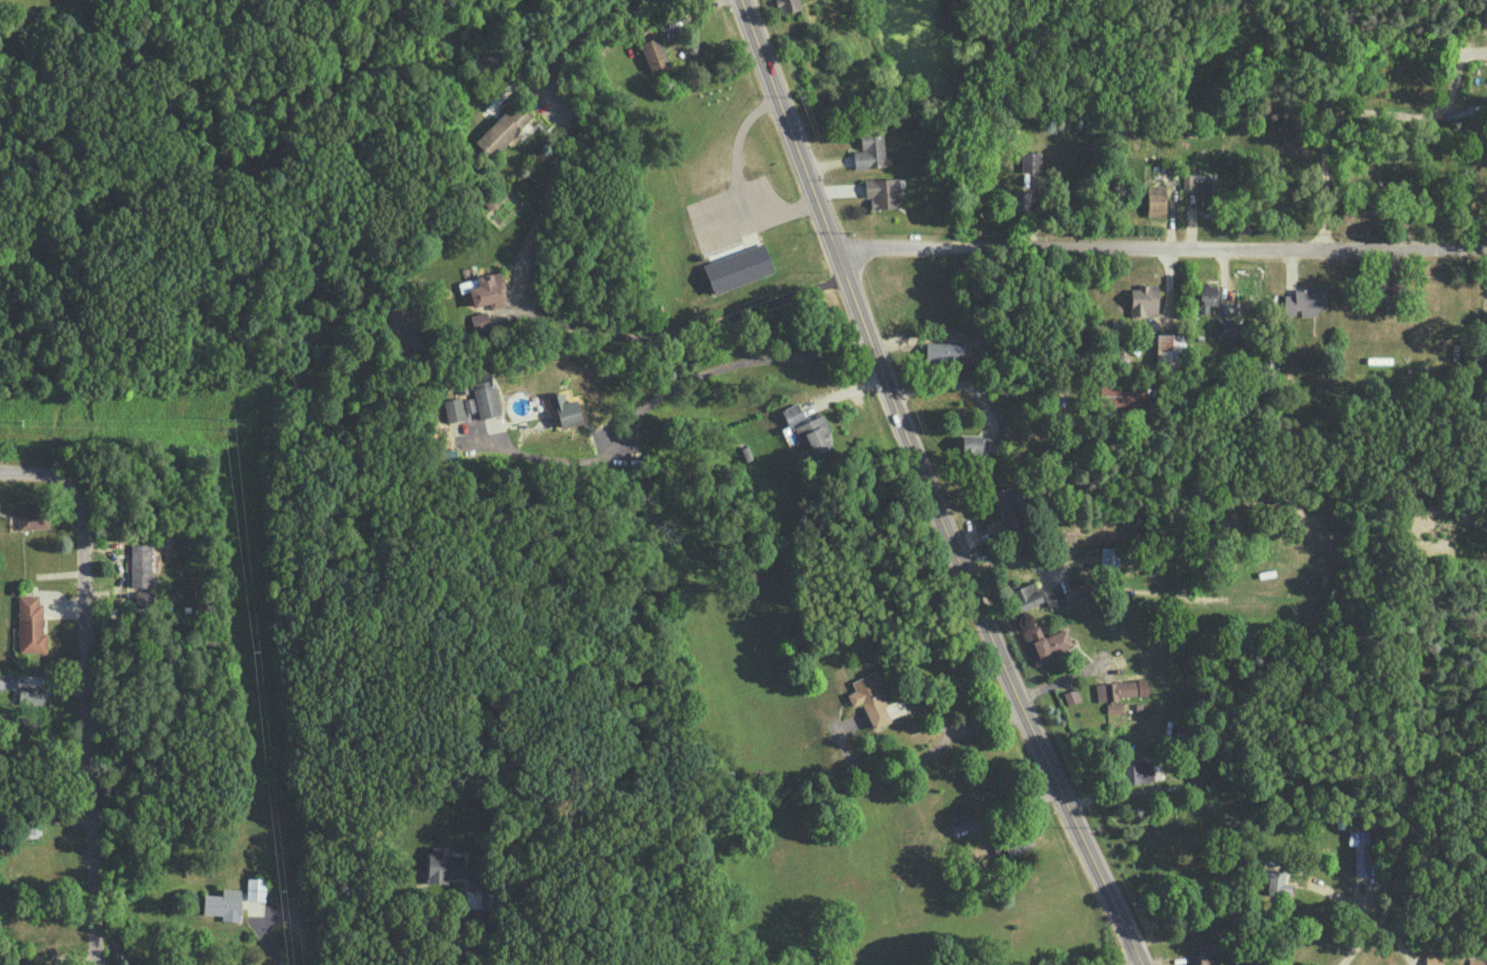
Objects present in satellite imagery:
building: (788, 5)
building: (653, 47)
road: (1368, 117)
road: (561, 127)
building: (502, 130)
building: (869, 150)
building: (1030, 160)
road: (736, 177)
building: (1203, 191)
building: (882, 192)
building: (1155, 201)
road: (1160, 246)
building: (738, 268)
building: (488, 291)
building: (1385, 293)
building: (1205, 296)
building: (1143, 300)
building: (1304, 301)
building: (480, 321)
building: (1226, 326)
building: (964, 350)
building: (1169, 351)
building: (1474, 355)
road: (676, 385)
road: (952, 385)
building: (485, 395)
building: (1118, 395)
building: (454, 409)
building: (563, 409)
building: (792, 414)
building: (814, 434)
building: (979, 443)
road: (37, 473)
road: (928, 488)
building: (1009, 506)
building: (33, 517)
building: (1109, 558)
building: (140, 564)
building: (1075, 585)
building: (1026, 595)
building: (1053, 595)
building: (144, 598)
building: (30, 625)
building: (1049, 641)
building: (8, 680)
building: (1119, 689)
building: (31, 694)
building: (869, 698)
building: (1114, 707)
road: (89, 724)
road: (958, 729)
building: (1138, 771)
road: (883, 778)
road: (1013, 809)
building: (958, 814)
road: (1407, 842)
building: (1016, 845)
building: (1360, 850)
building: (443, 864)
building: (1276, 880)
building: (255, 888)
building: (223, 904)
road: (1393, 942)
road: (270, 945)
road: (476, 948)
building: (1203, 958)
building: (1433, 959)
road: (1138, 964)

